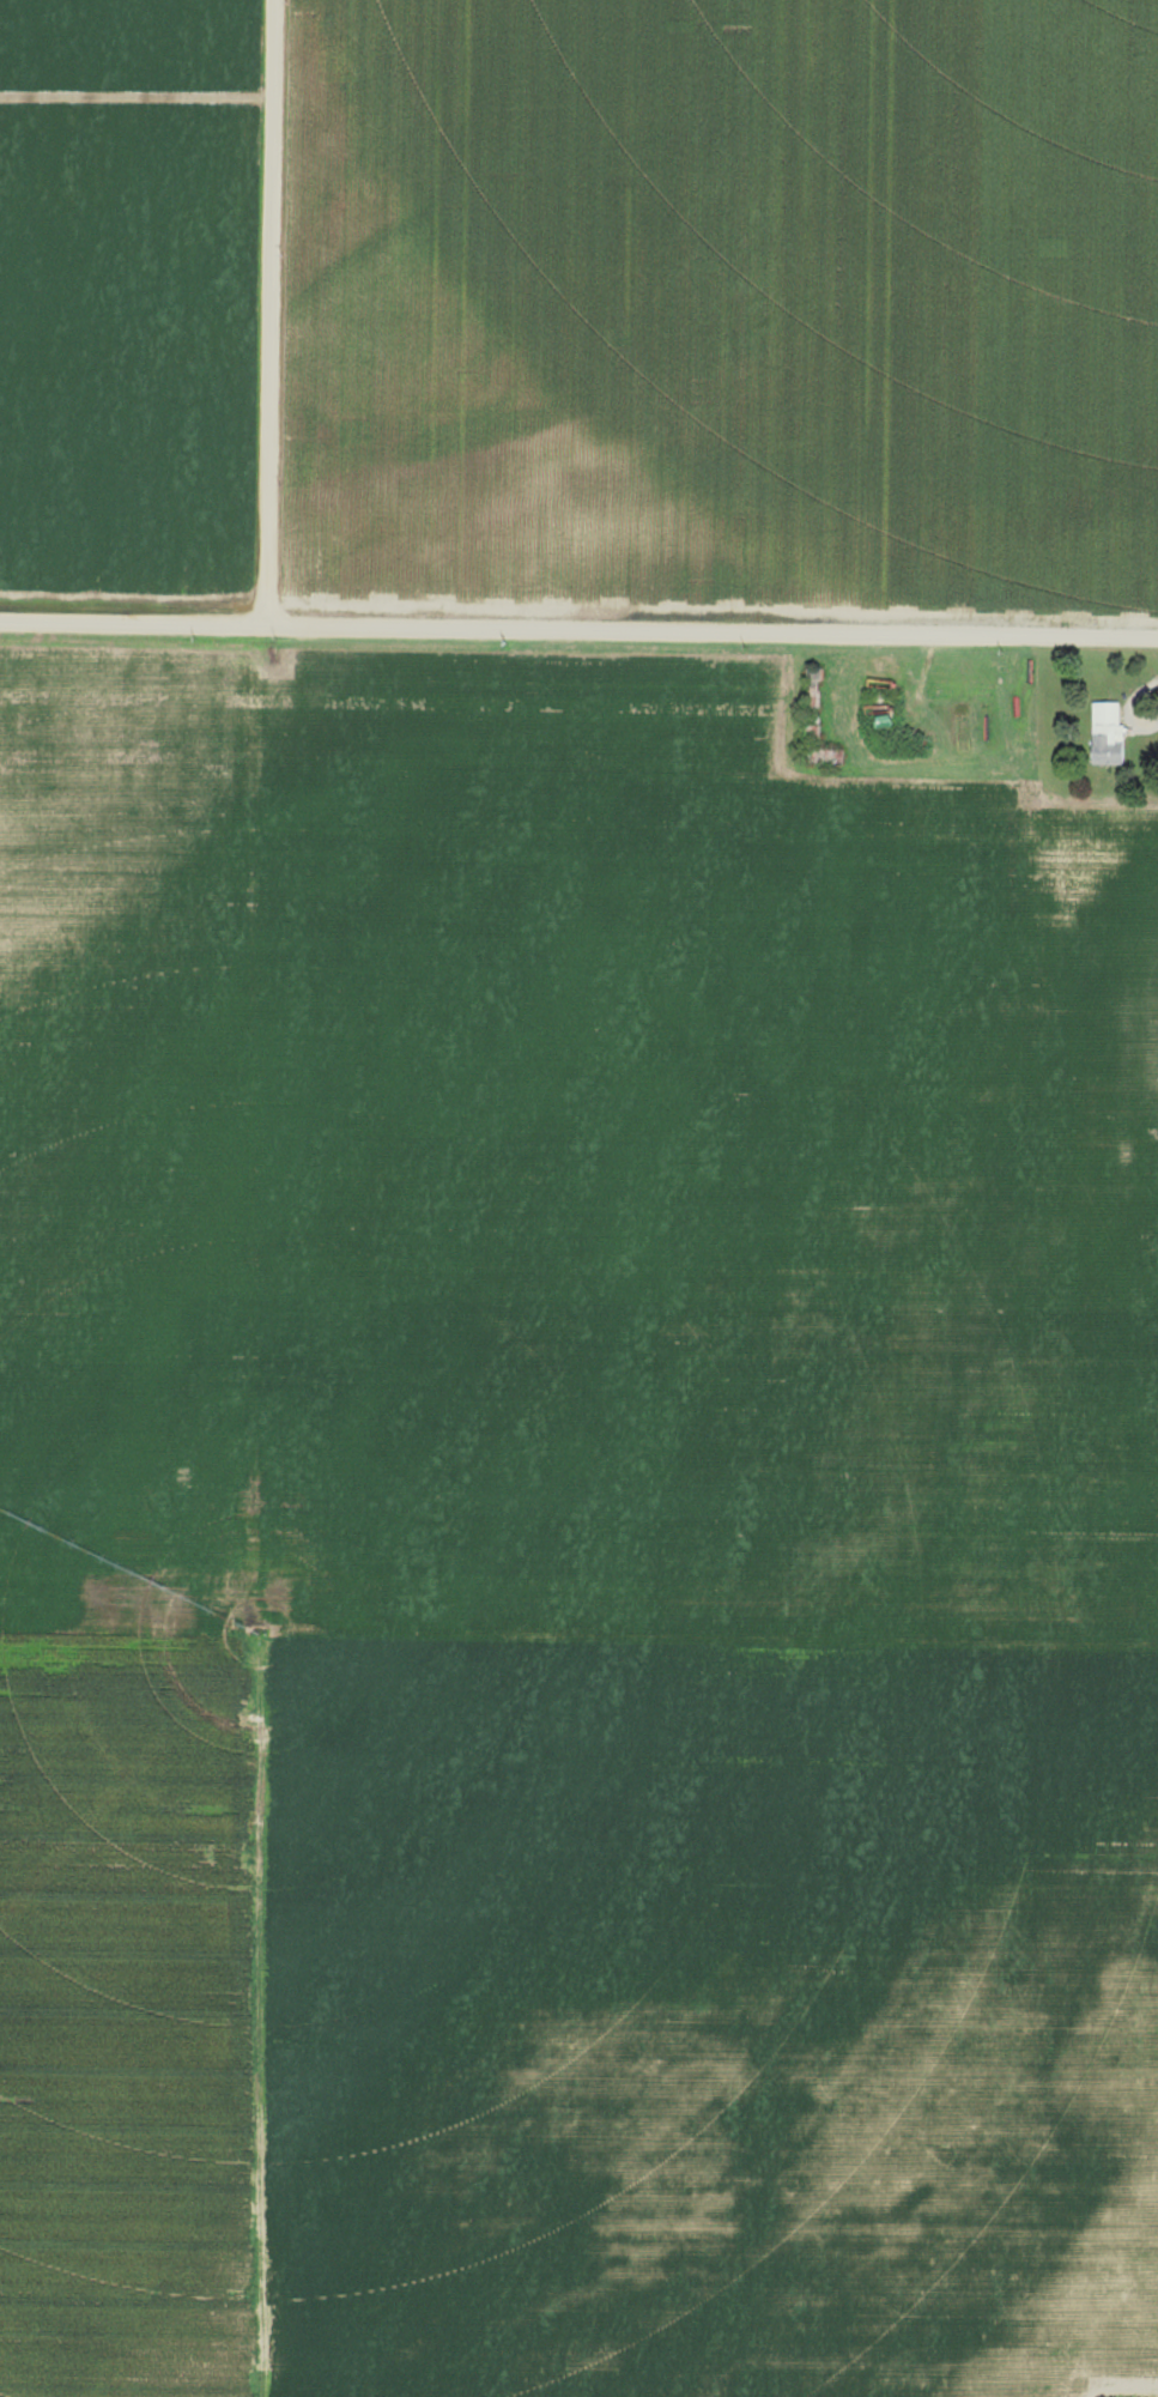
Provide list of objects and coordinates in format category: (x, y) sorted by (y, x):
road: (271, 313)
road: (578, 630)
building: (1109, 719)
road: (1129, 725)
building: (1109, 749)
road: (578, 1633)
road: (260, 2011)
road: (1123, 2387)

